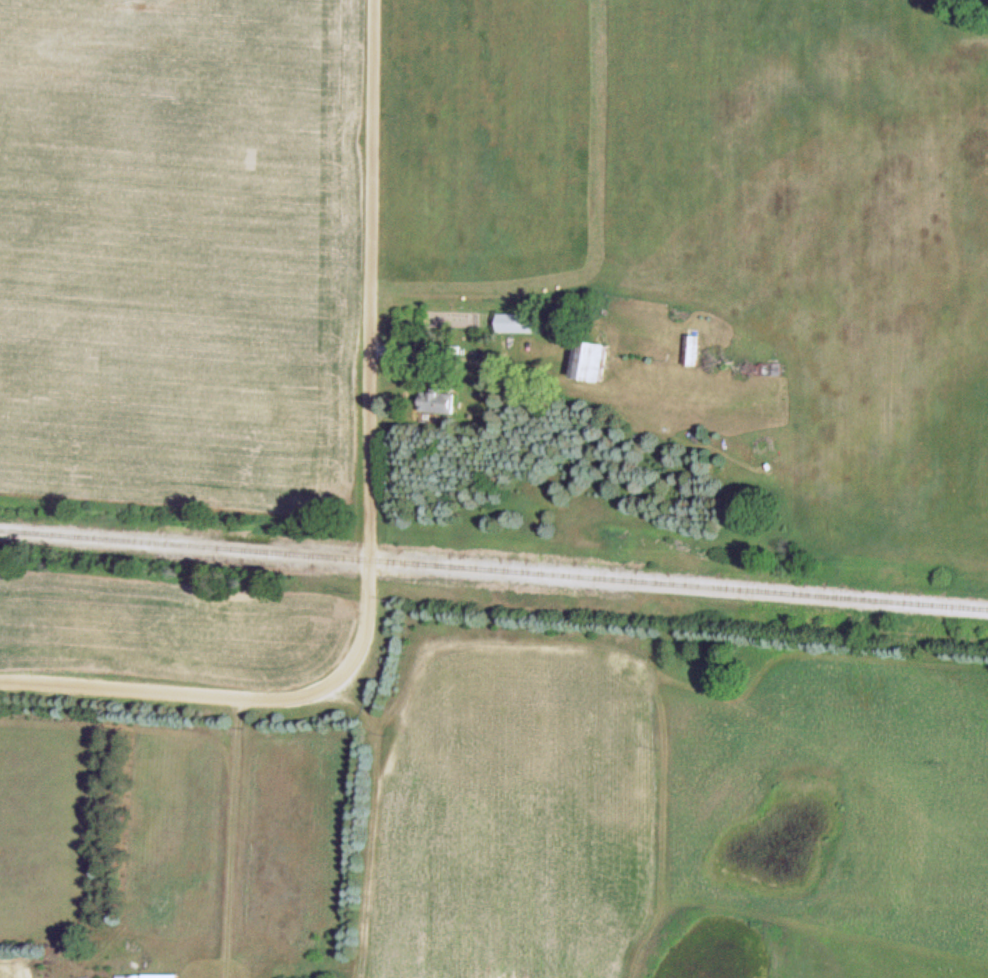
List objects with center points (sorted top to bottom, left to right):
road: (372, 280)
building: (520, 323)
building: (691, 350)
building: (590, 362)
building: (761, 369)
building: (437, 402)
railway: (494, 569)
road: (366, 625)
road: (171, 695)
building: (147, 976)

